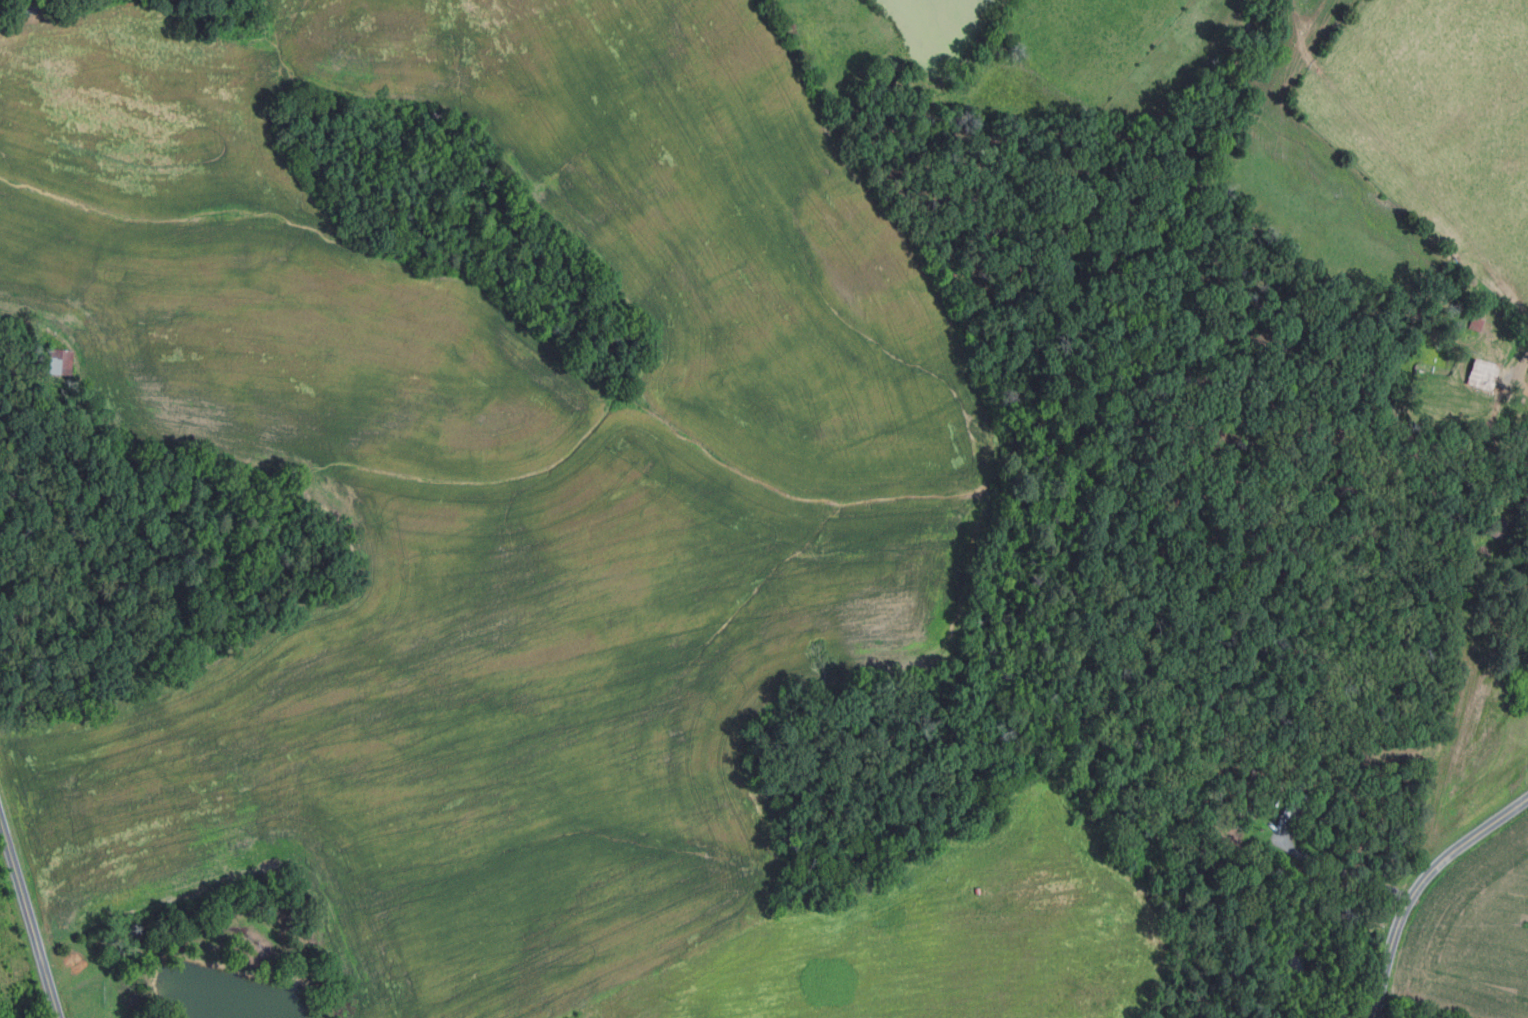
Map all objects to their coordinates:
road: (22, 14)
building: (1475, 324)
building: (59, 360)
building: (1527, 371)
building: (1481, 373)
crop: (488, 481)
building: (1496, 526)
building: (1291, 797)
road: (1331, 867)
road: (1418, 885)
road: (28, 923)
crop: (946, 934)
crop: (592, 1011)

